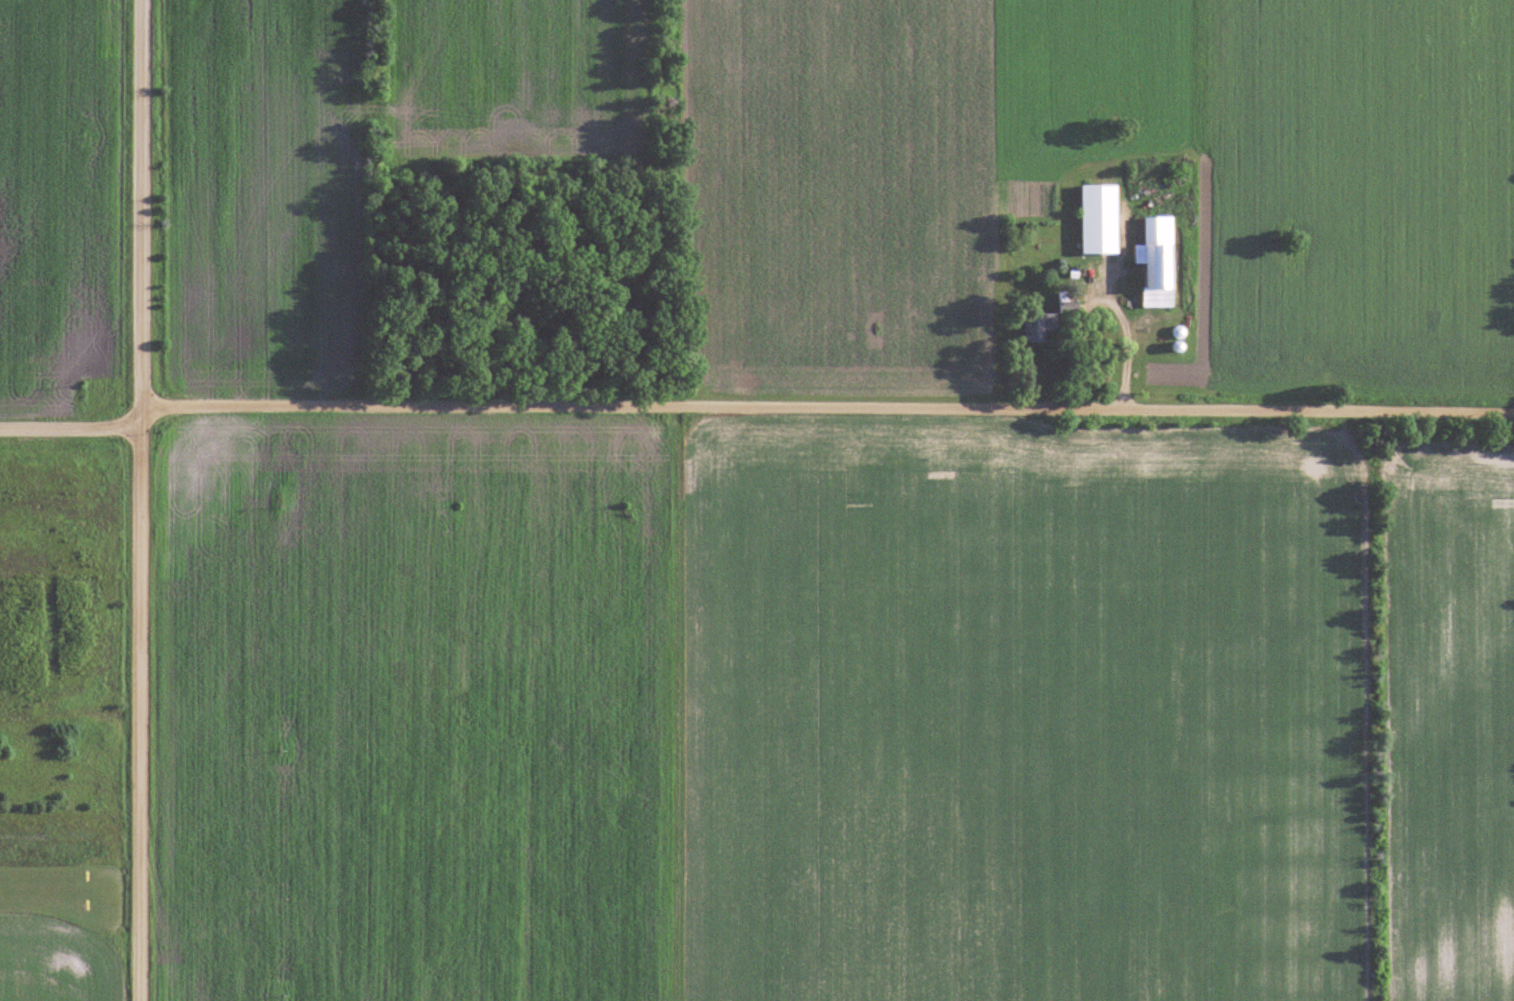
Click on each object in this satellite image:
building: (1092, 240)
building: (1158, 261)
road: (1103, 297)
building: (1068, 302)
building: (1038, 329)
road: (826, 410)
road: (68, 434)
road: (136, 500)
airport runway: (45, 887)

